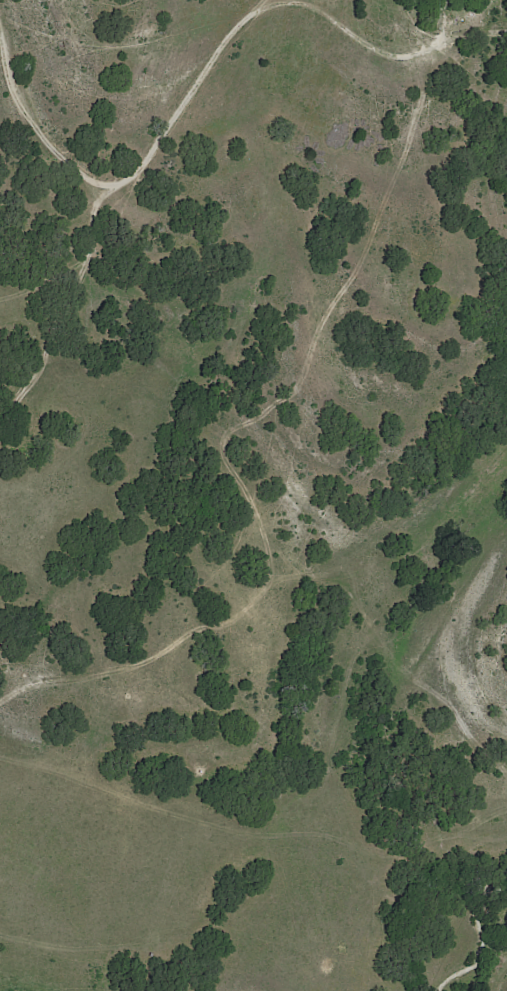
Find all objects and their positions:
building: (434, 1)
building: (426, 8)
road: (205, 73)

